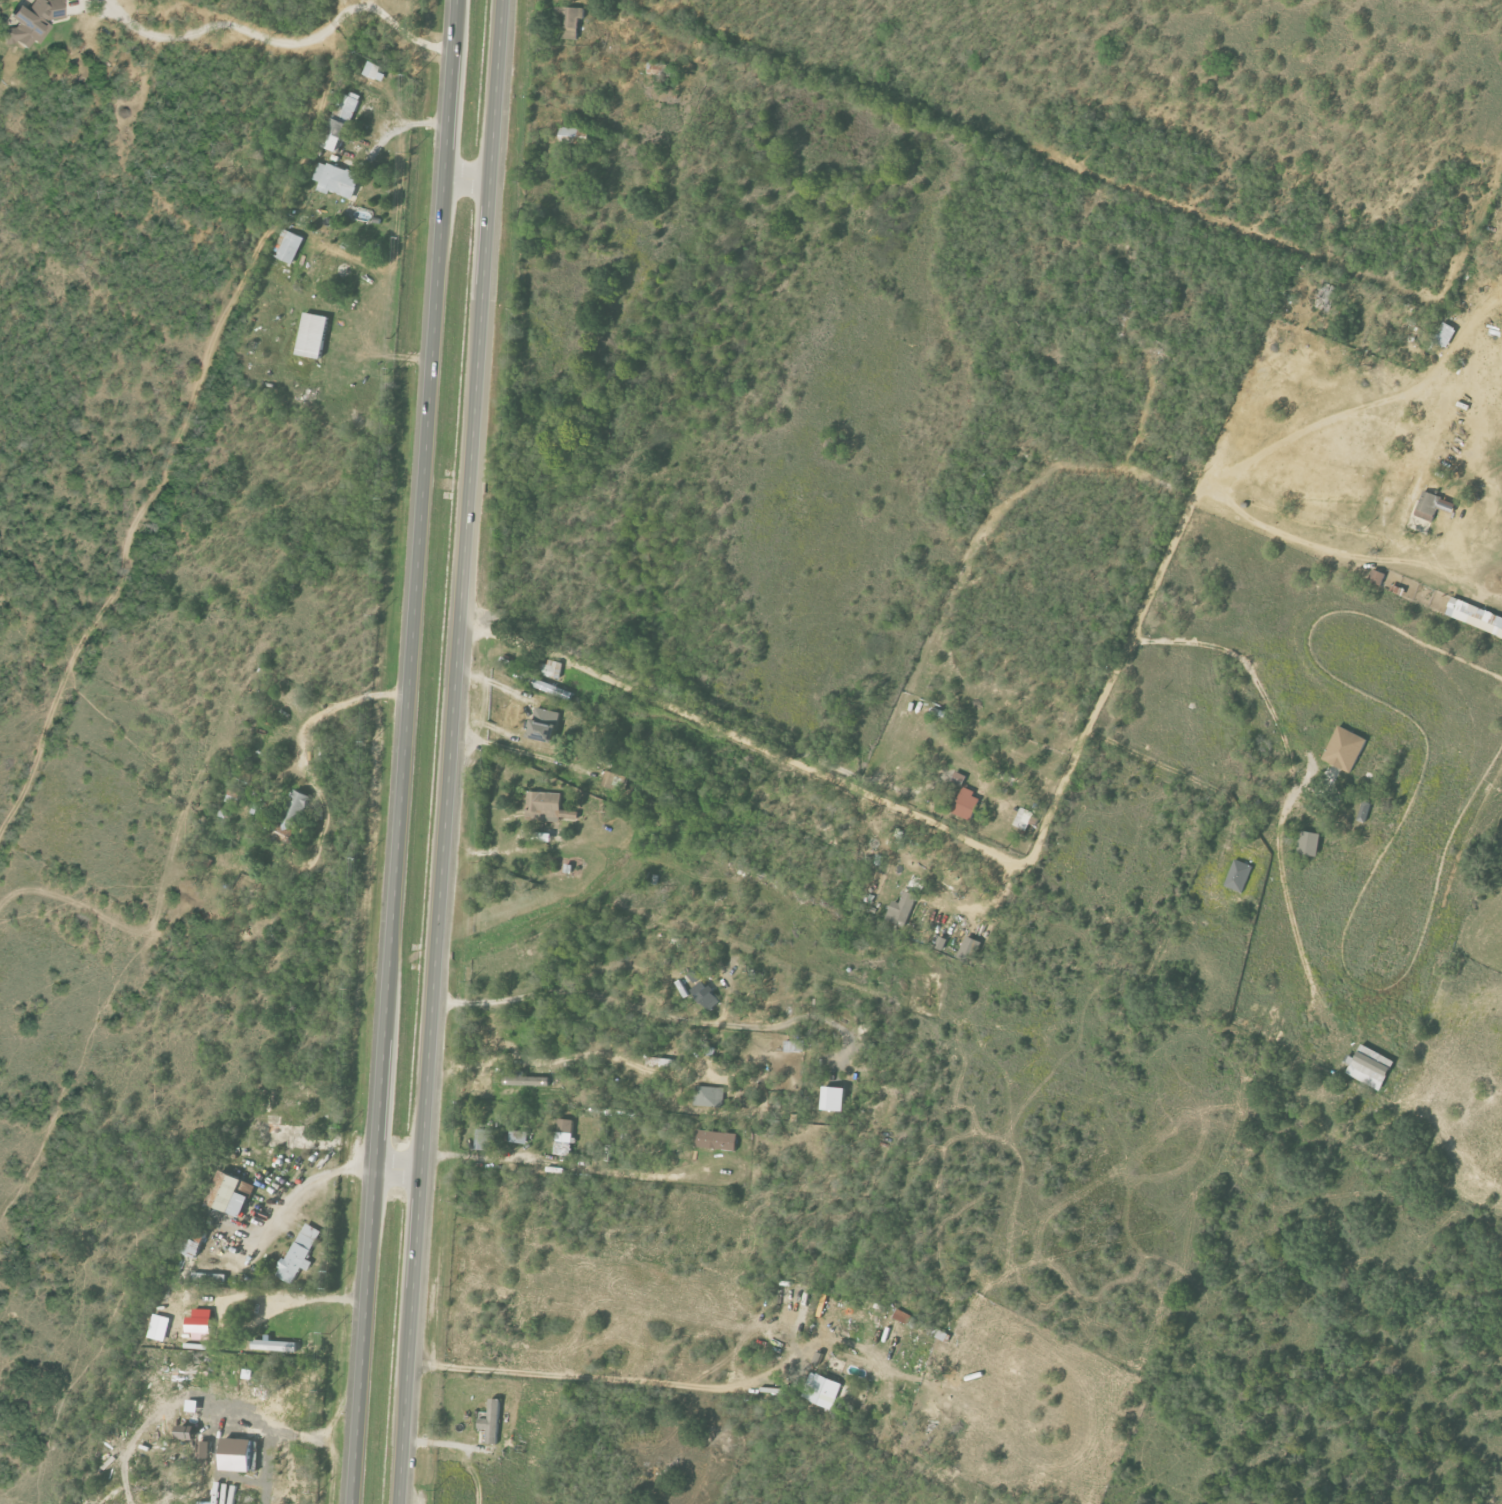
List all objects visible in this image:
building: (29, 22)
building: (571, 22)
road: (274, 45)
building: (375, 72)
building: (340, 122)
road: (405, 125)
building: (336, 180)
road: (470, 183)
building: (313, 335)
building: (1445, 335)
building: (1428, 506)
building: (1447, 506)
road: (1174, 537)
building: (1377, 577)
building: (1475, 616)
building: (550, 669)
building: (549, 688)
road: (328, 712)
building: (545, 724)
road: (739, 737)
building: (1345, 749)
road: (406, 751)
road: (453, 751)
road: (1290, 767)
building: (610, 779)
building: (967, 804)
building: (547, 806)
building: (295, 810)
building: (1309, 843)
building: (1239, 875)
building: (903, 908)
building: (970, 949)
building: (694, 976)
road: (548, 992)
building: (706, 995)
road: (749, 1025)
road: (572, 1059)
building: (1371, 1066)
building: (525, 1080)
building: (710, 1096)
building: (834, 1098)
building: (518, 1136)
building: (564, 1138)
building: (484, 1139)
building: (717, 1140)
road: (558, 1168)
road: (400, 1172)
road: (314, 1176)
building: (231, 1194)
building: (192, 1248)
building: (297, 1258)
road: (261, 1282)
building: (818, 1357)
road: (589, 1380)
building: (823, 1391)
building: (492, 1421)
building: (185, 1432)
building: (202, 1448)
building: (236, 1453)

